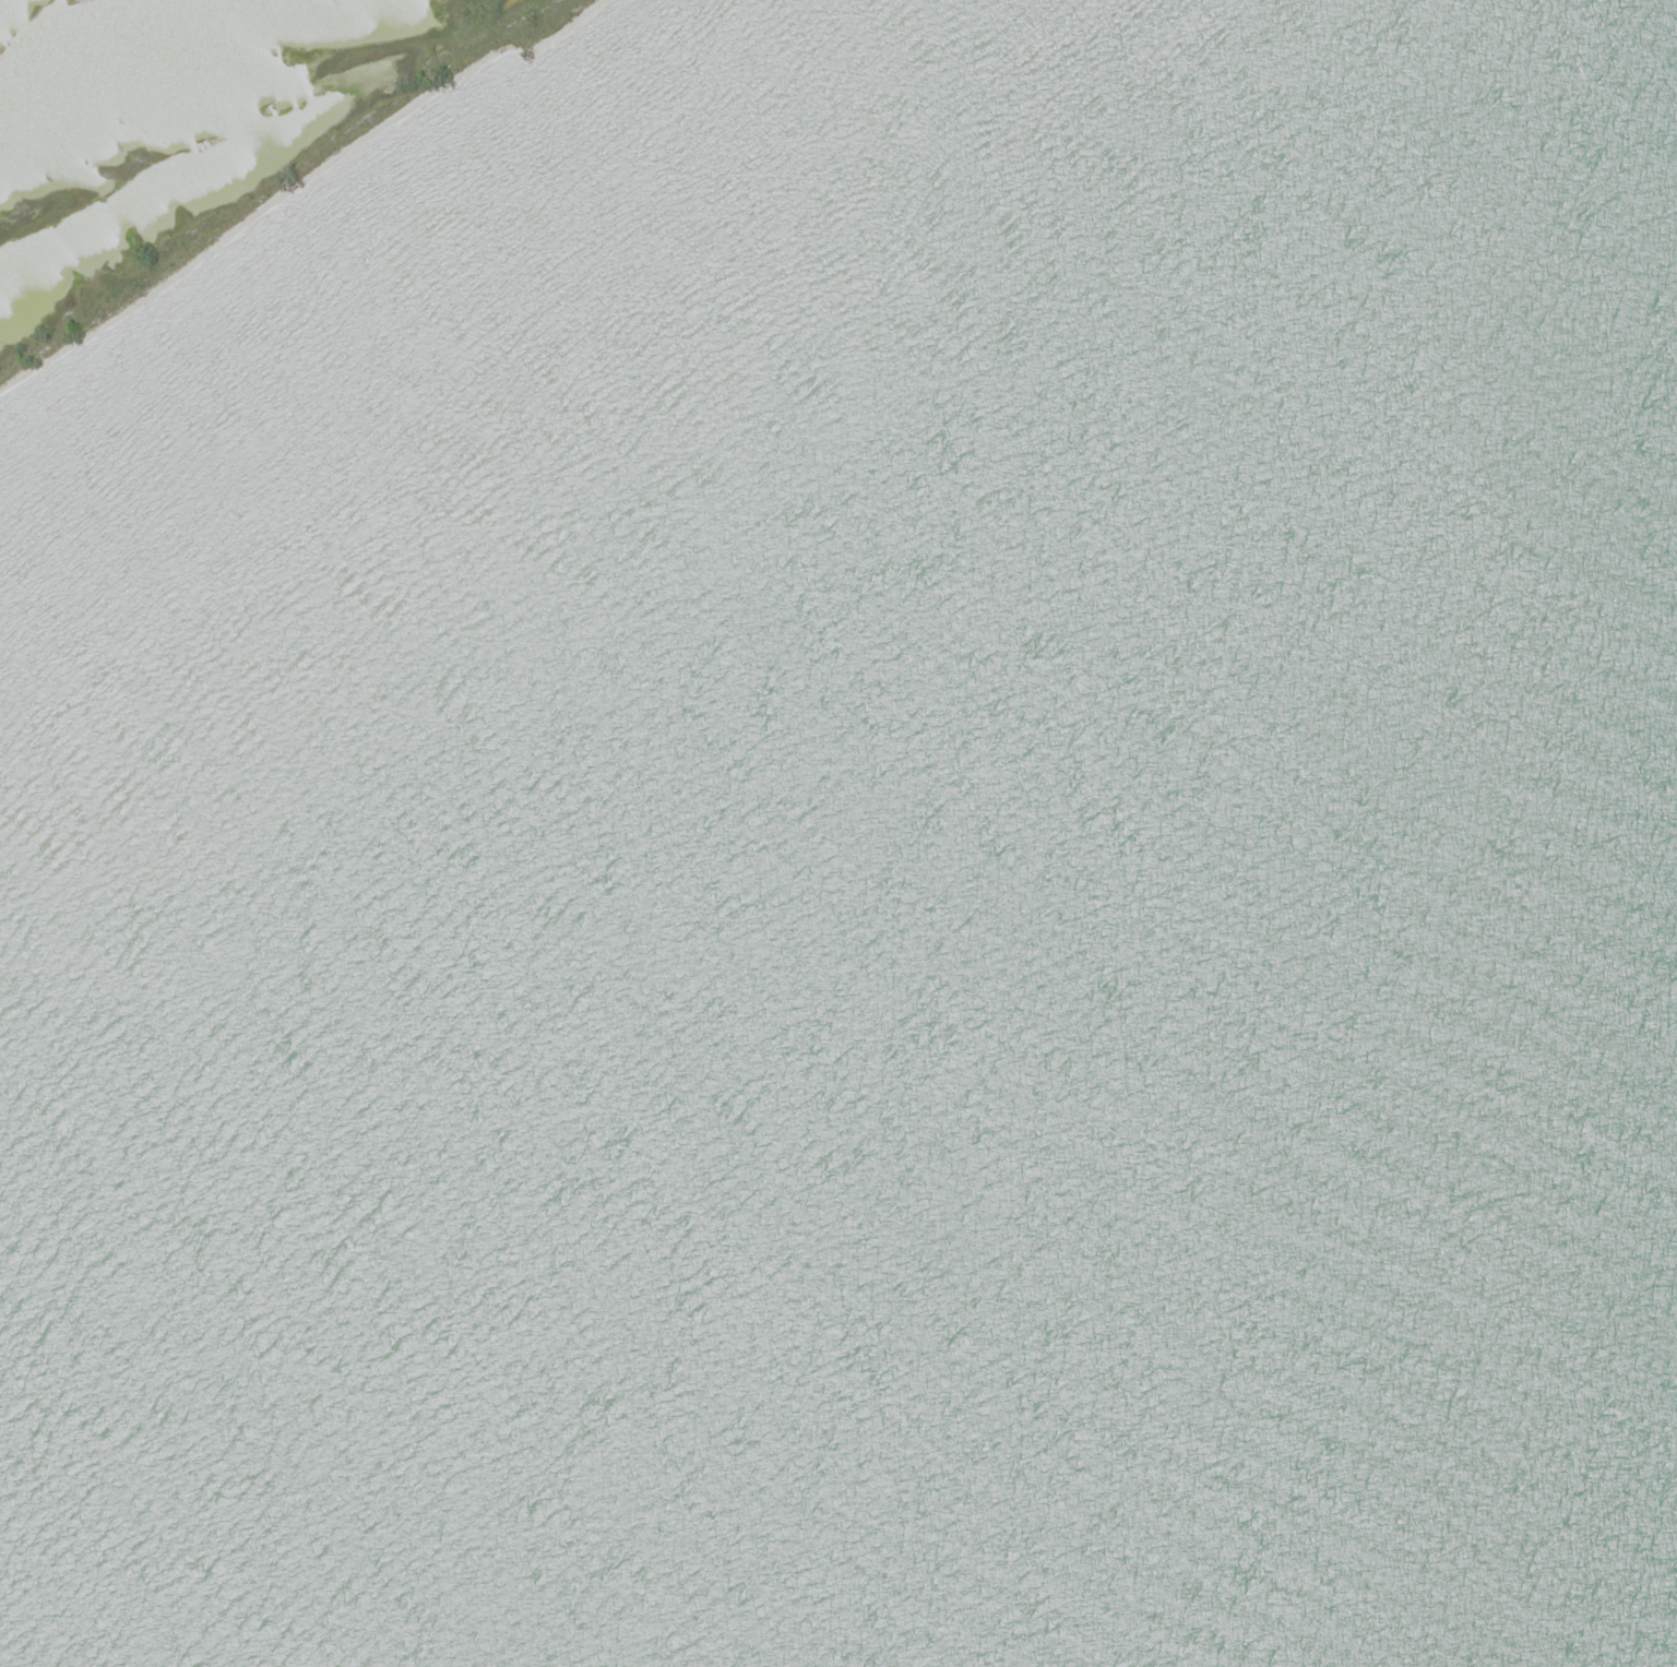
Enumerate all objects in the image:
railway: (4, 367)

